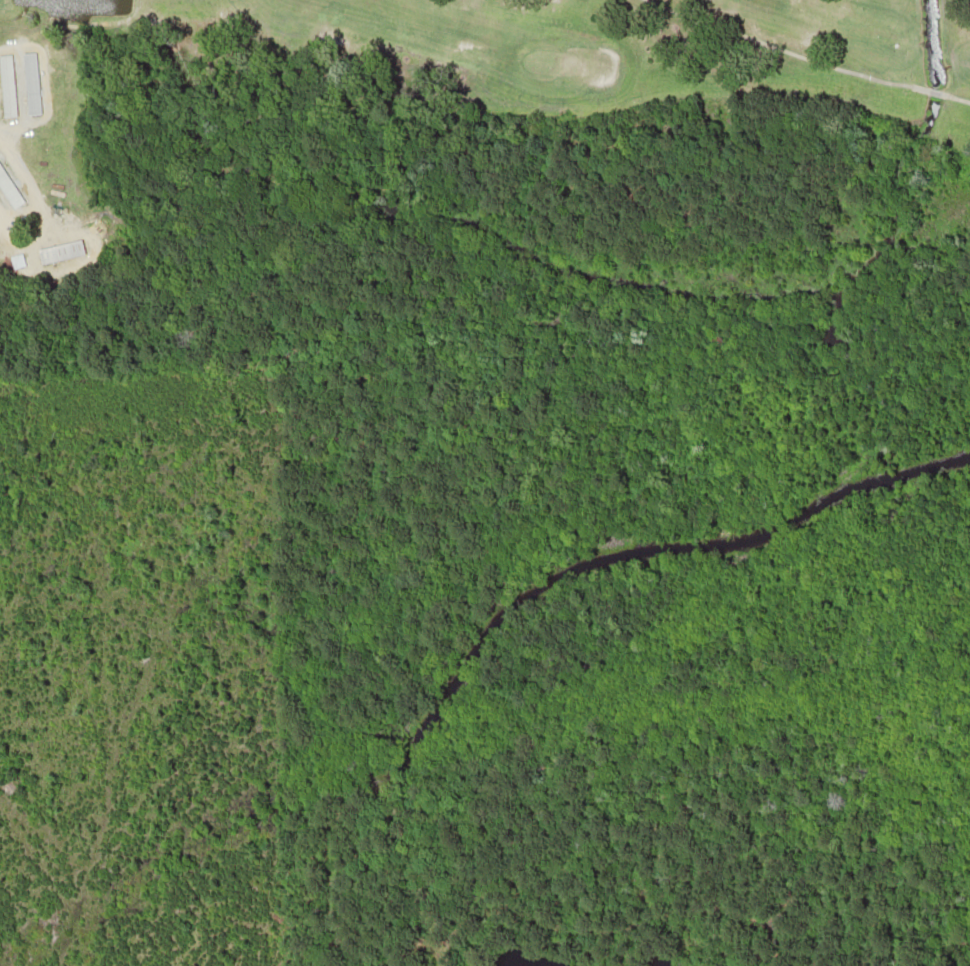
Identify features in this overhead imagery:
building: (29, 84)
building: (5, 88)
building: (8, 192)
park: (56, 241)
building: (58, 252)

